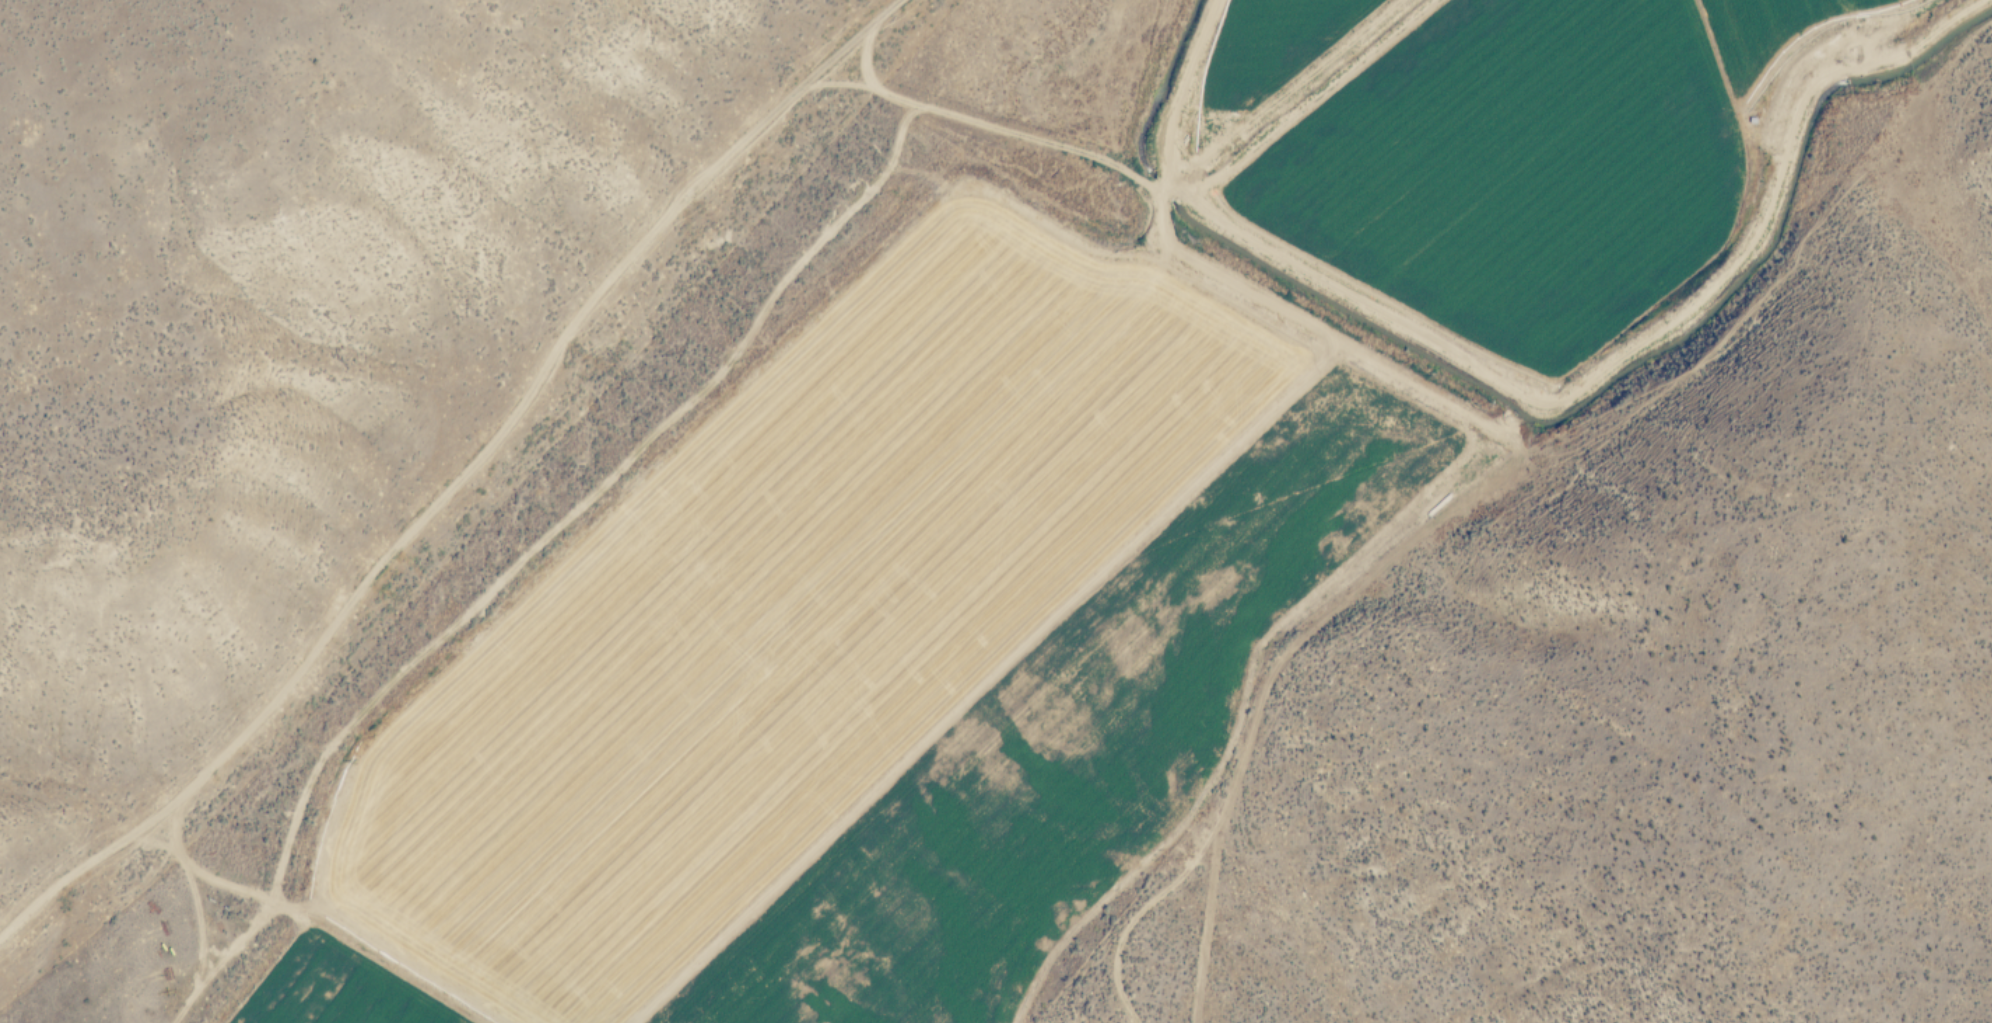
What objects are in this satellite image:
road: (458, 478)

